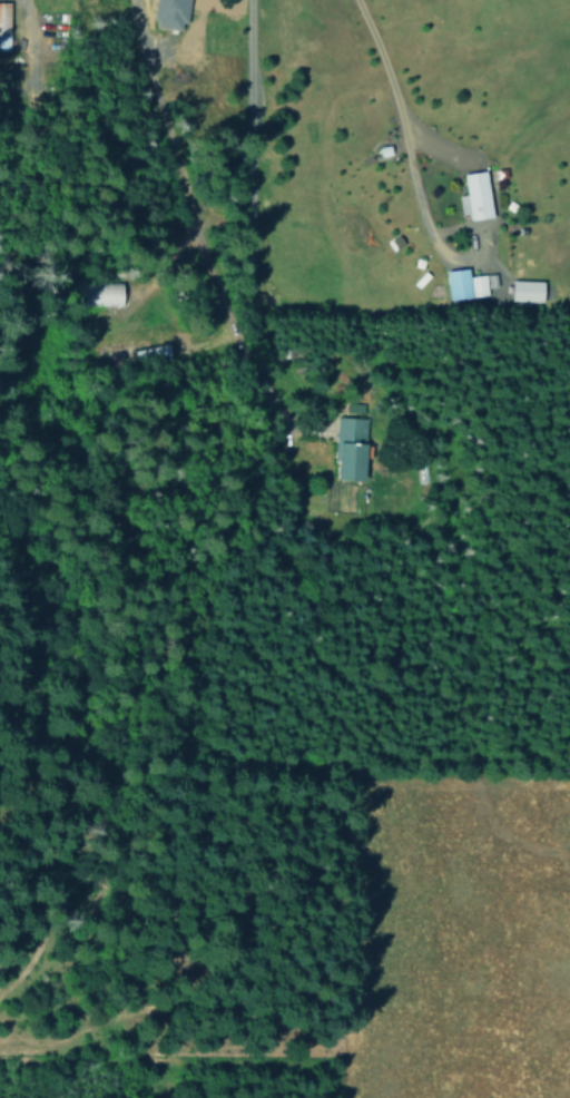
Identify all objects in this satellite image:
building: (173, 13)
building: (4, 22)
building: (476, 195)
road: (195, 235)
building: (464, 284)
building: (528, 291)
building: (102, 293)
building: (351, 447)
crop: (463, 929)

